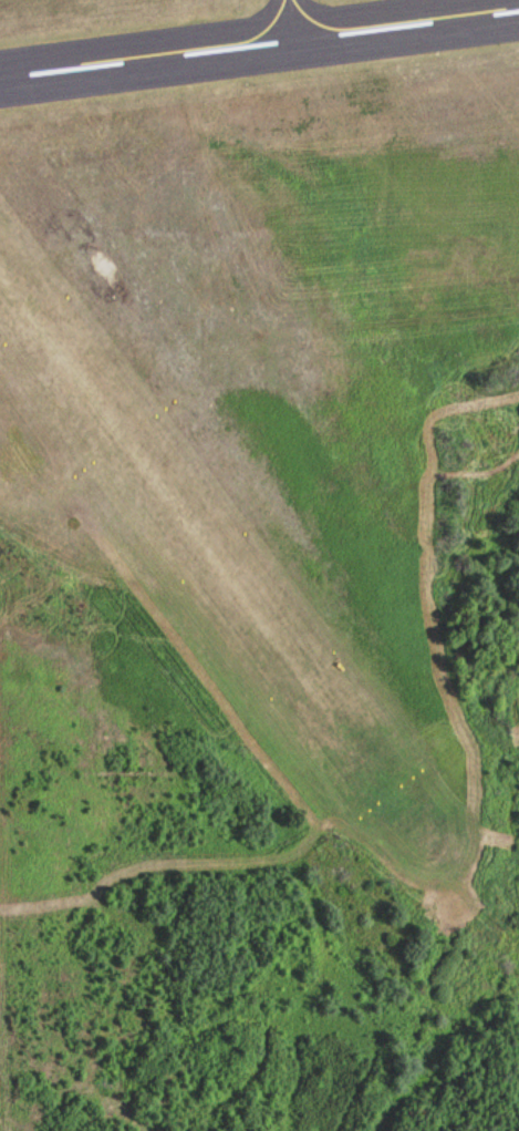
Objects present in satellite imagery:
airport taxiway: (288, 20)
airport runway: (259, 43)
airport: (279, 363)
airport runway: (194, 535)

